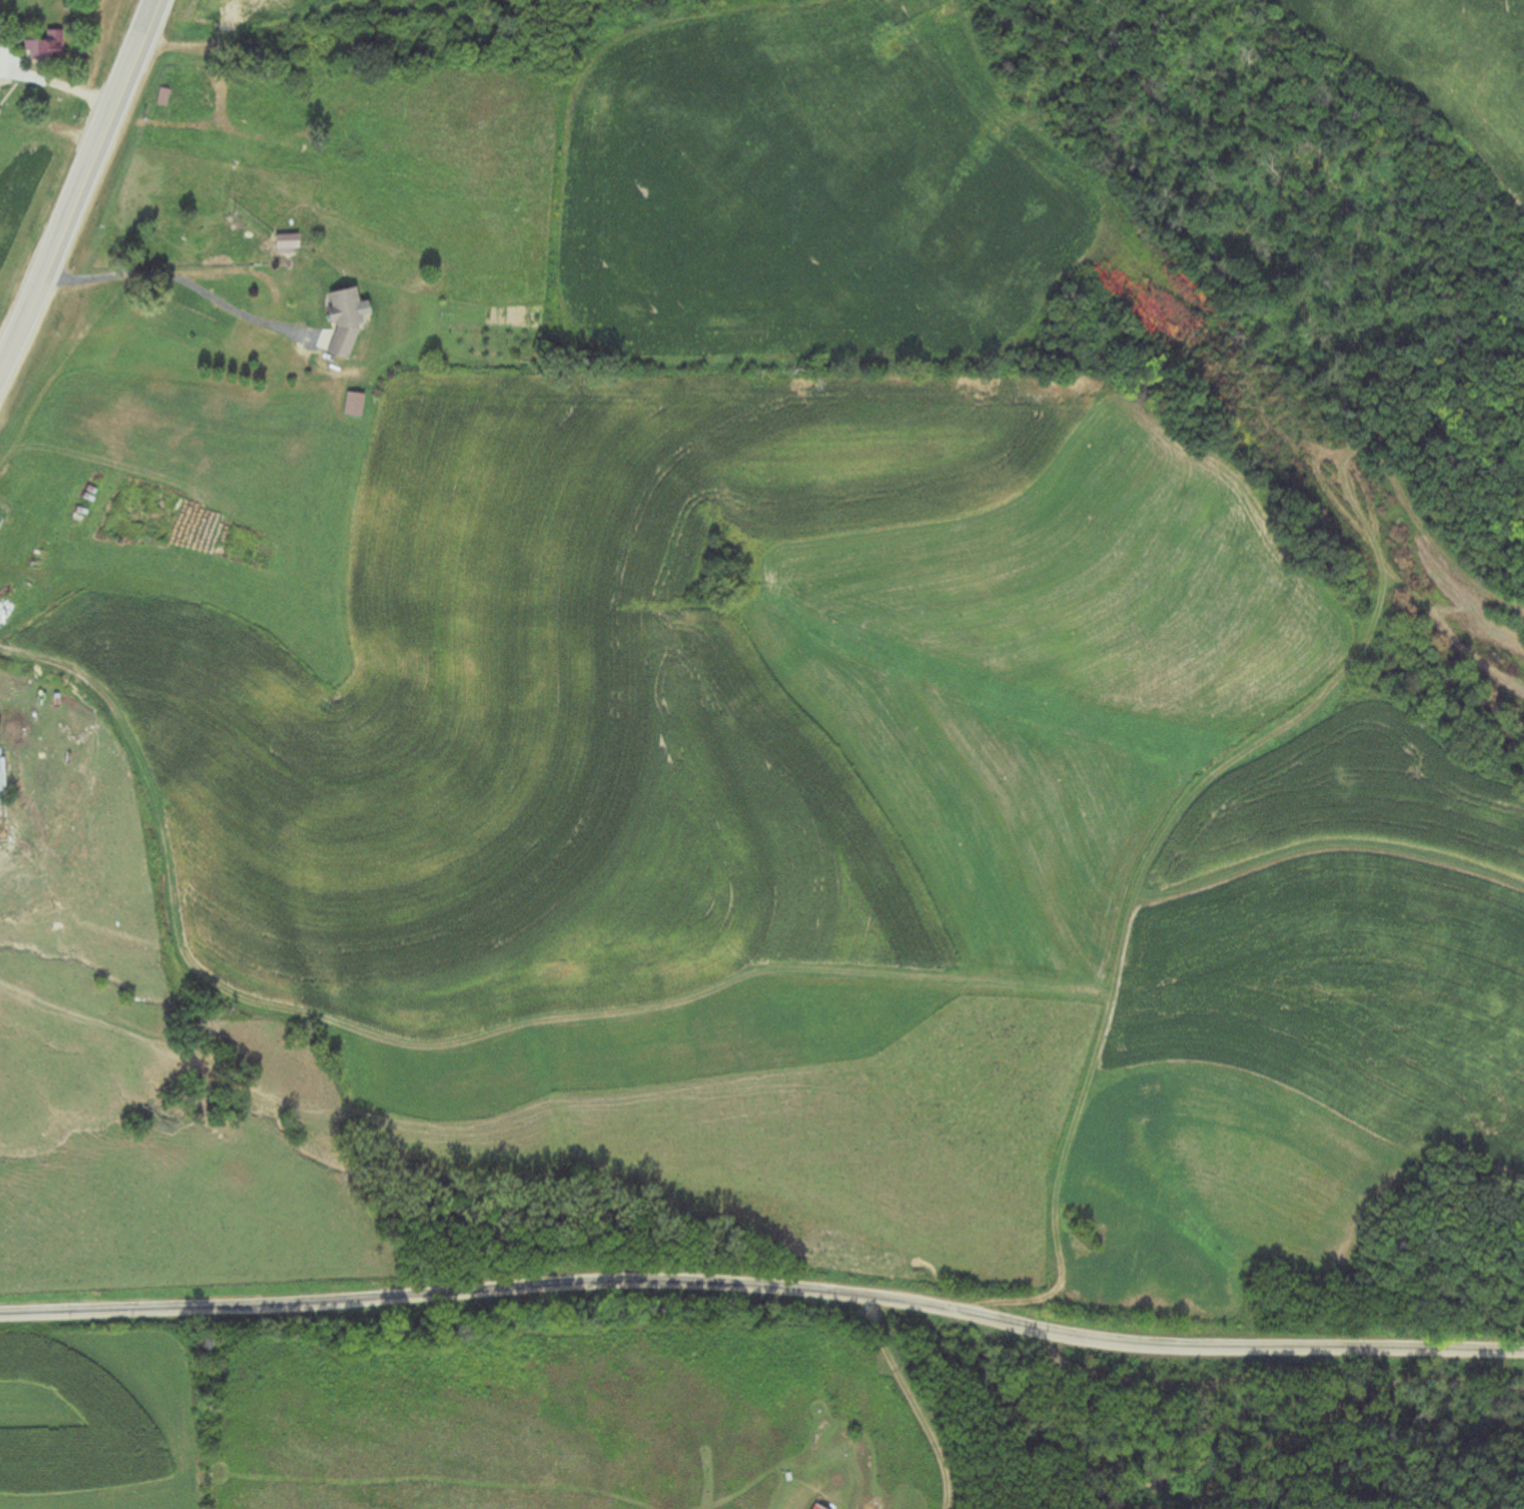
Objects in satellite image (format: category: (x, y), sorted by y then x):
building: (42, 48)
building: (282, 143)
road: (82, 187)
building: (285, 243)
building: (341, 320)
road: (764, 1286)
building: (811, 1507)

